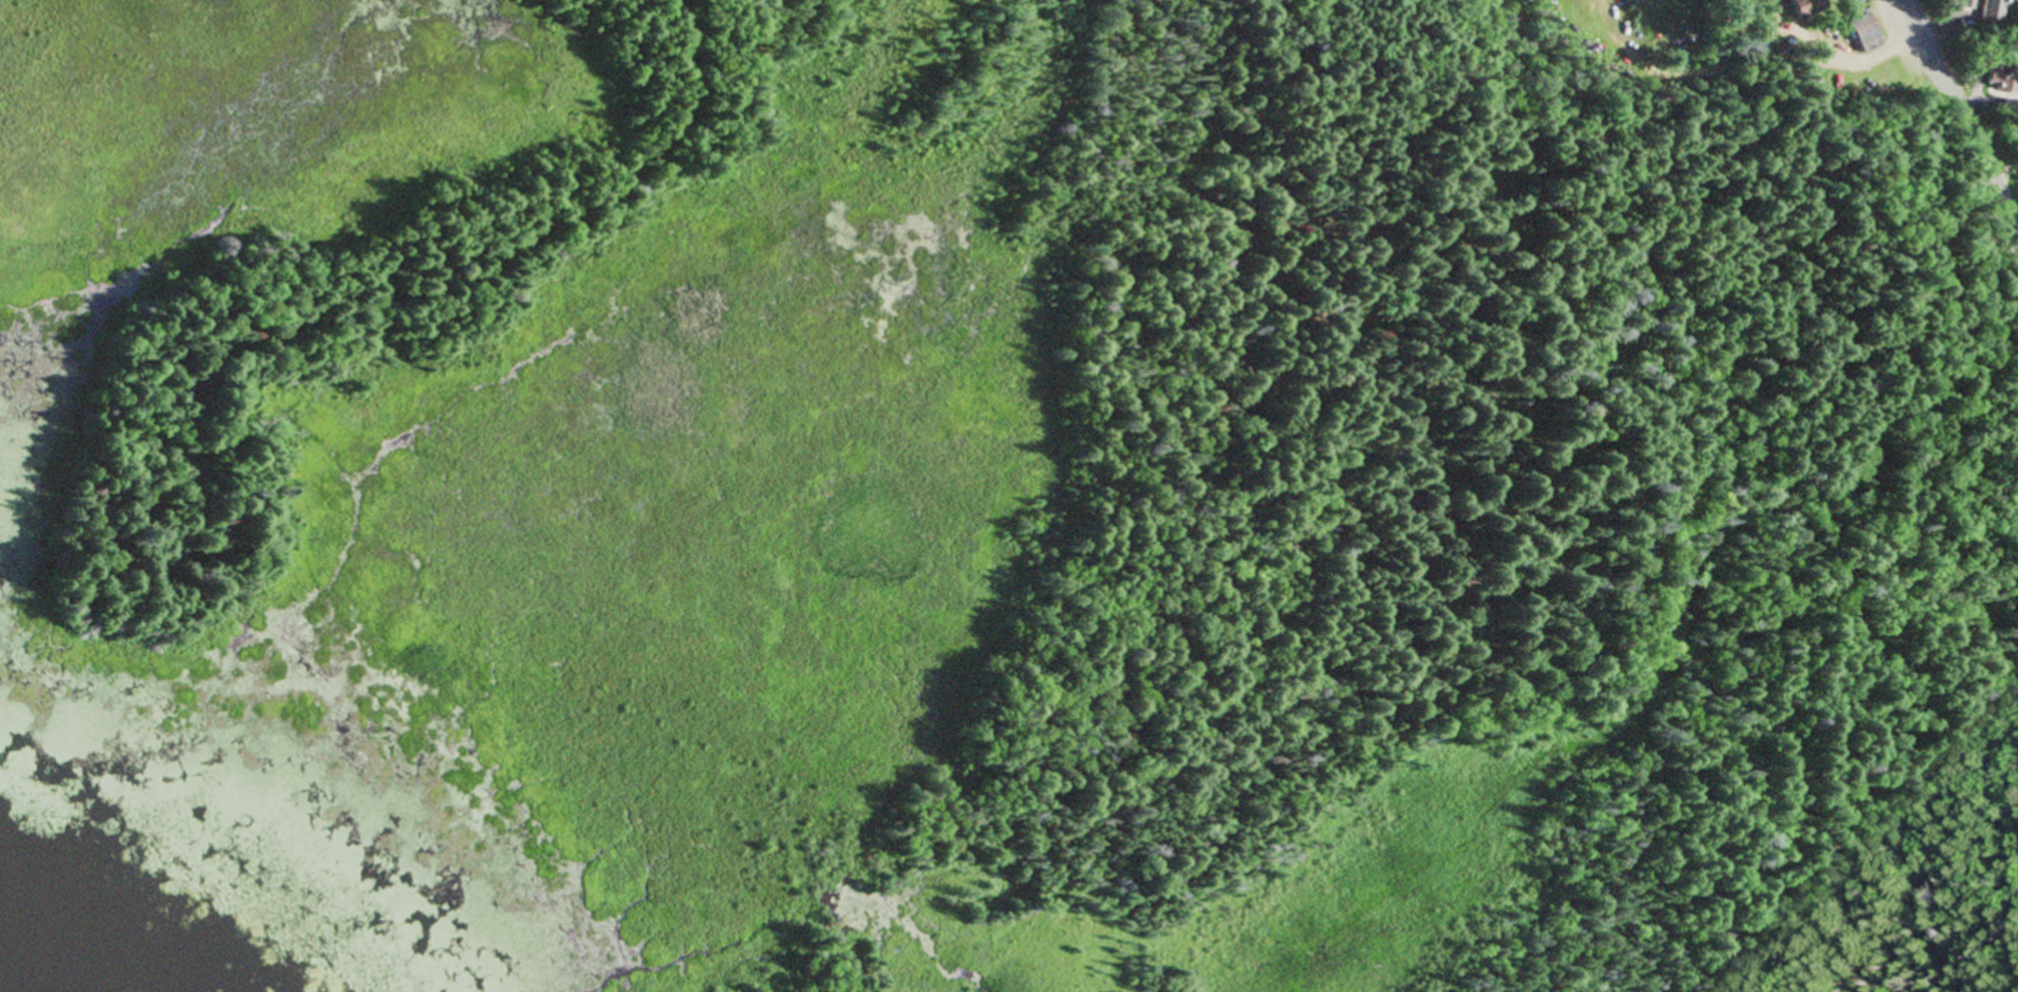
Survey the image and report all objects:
building: (1805, 8)
building: (1991, 11)
building: (1863, 32)
building: (2004, 80)
road: (1964, 121)

